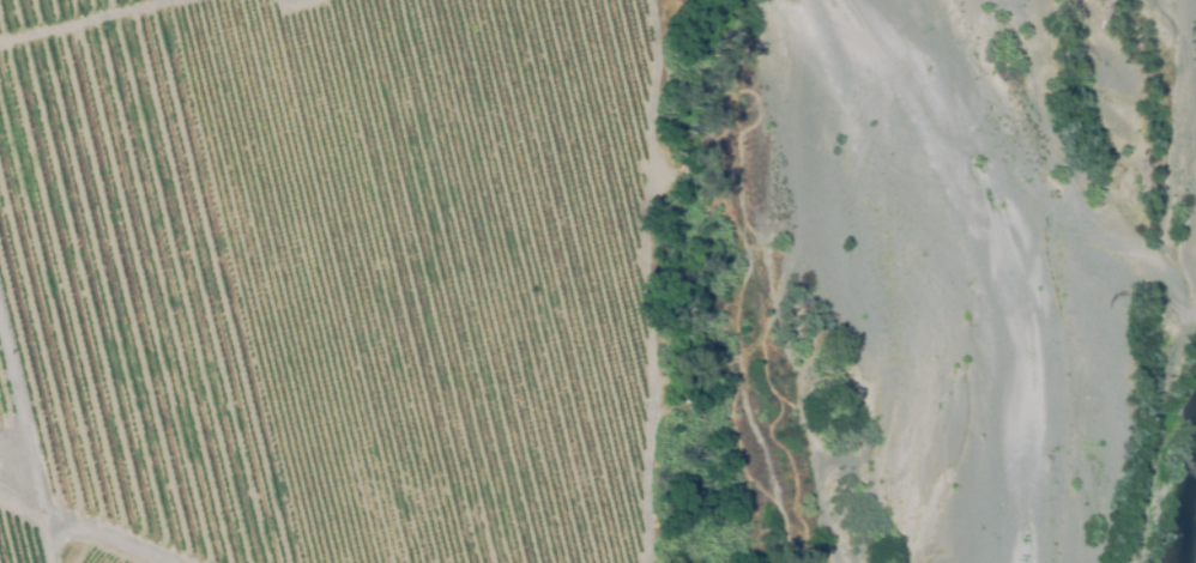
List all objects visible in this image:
road: (78, 19)
road: (644, 281)
river: (1150, 467)
road: (19, 480)
road: (93, 539)

